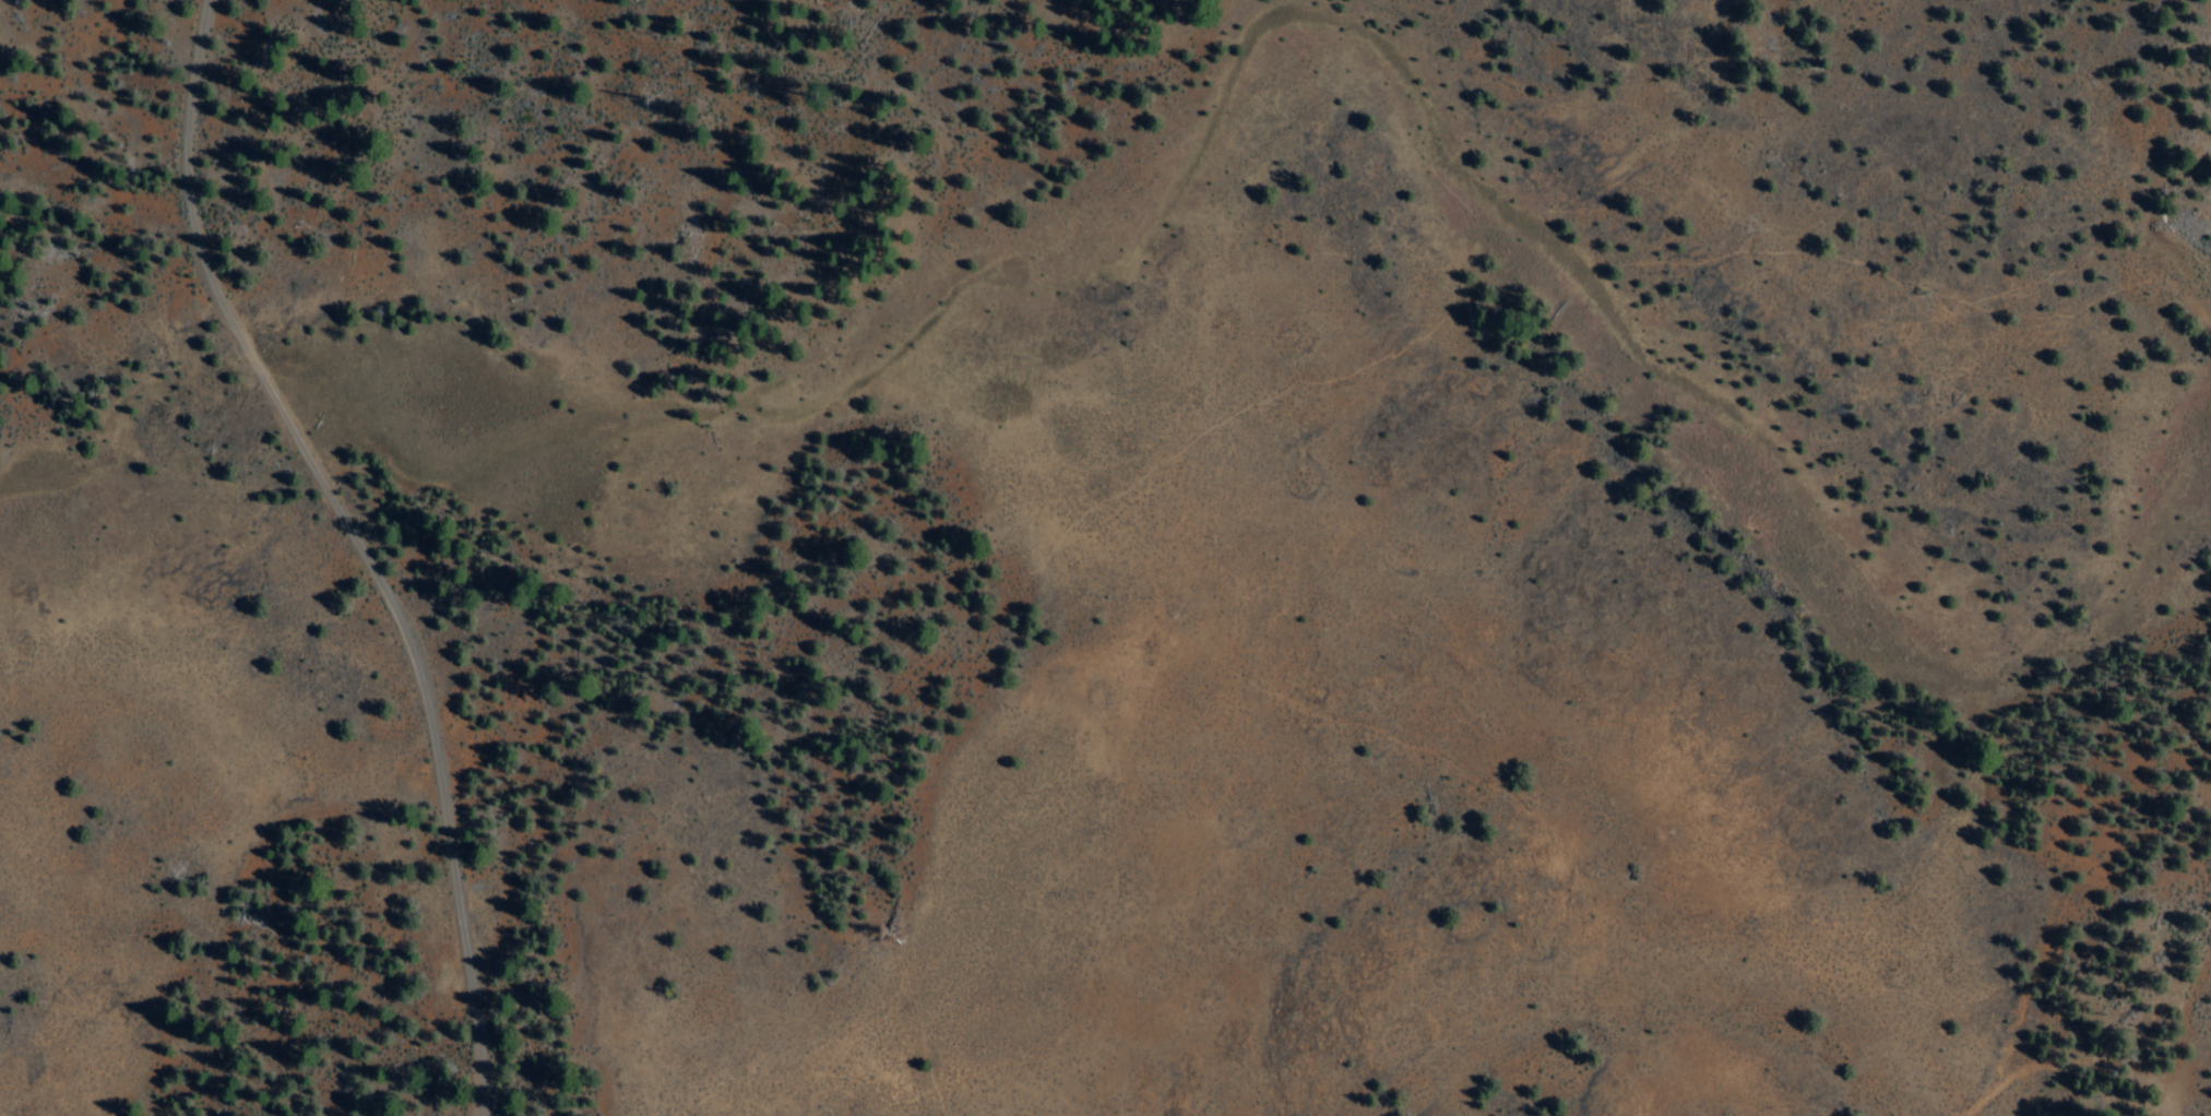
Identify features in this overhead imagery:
dam: (2190, 224)
road: (361, 548)
road: (2107, 1064)

